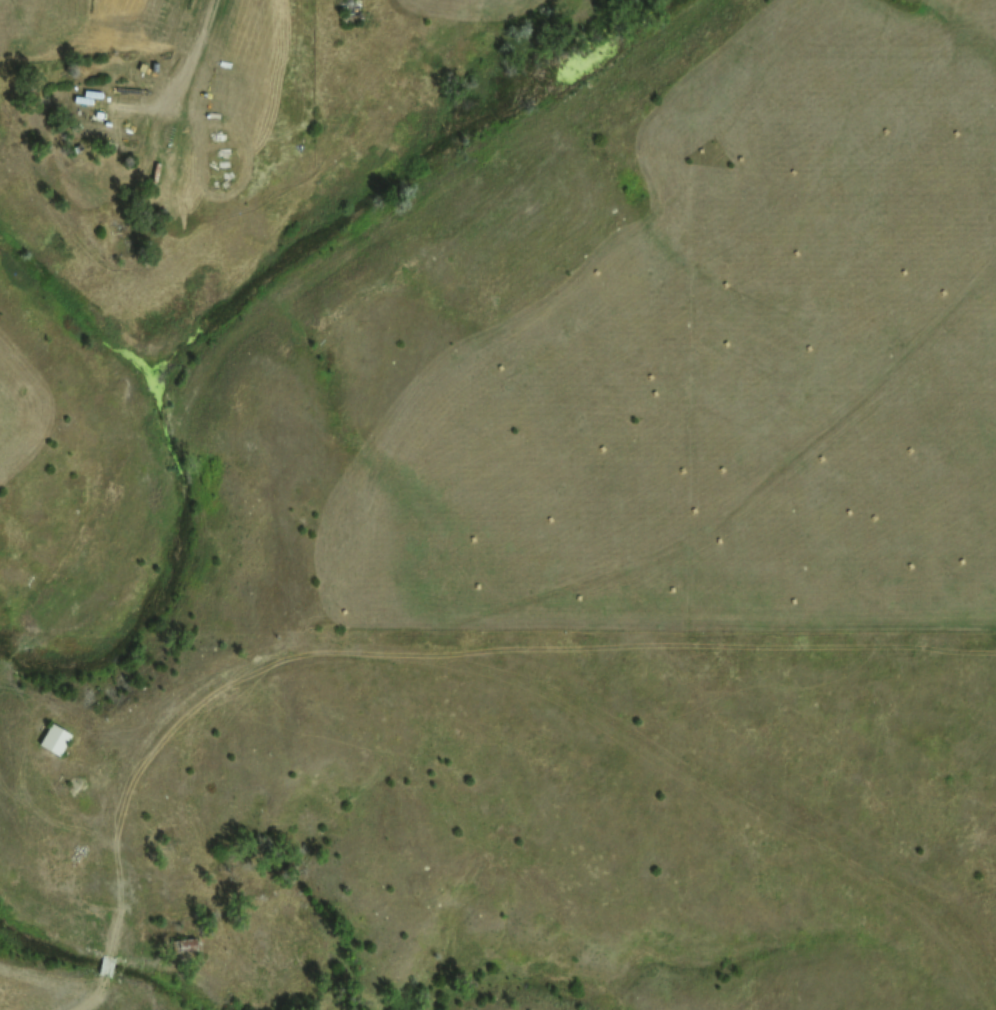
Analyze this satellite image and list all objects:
road: (176, 58)
building: (56, 742)
building: (182, 944)

